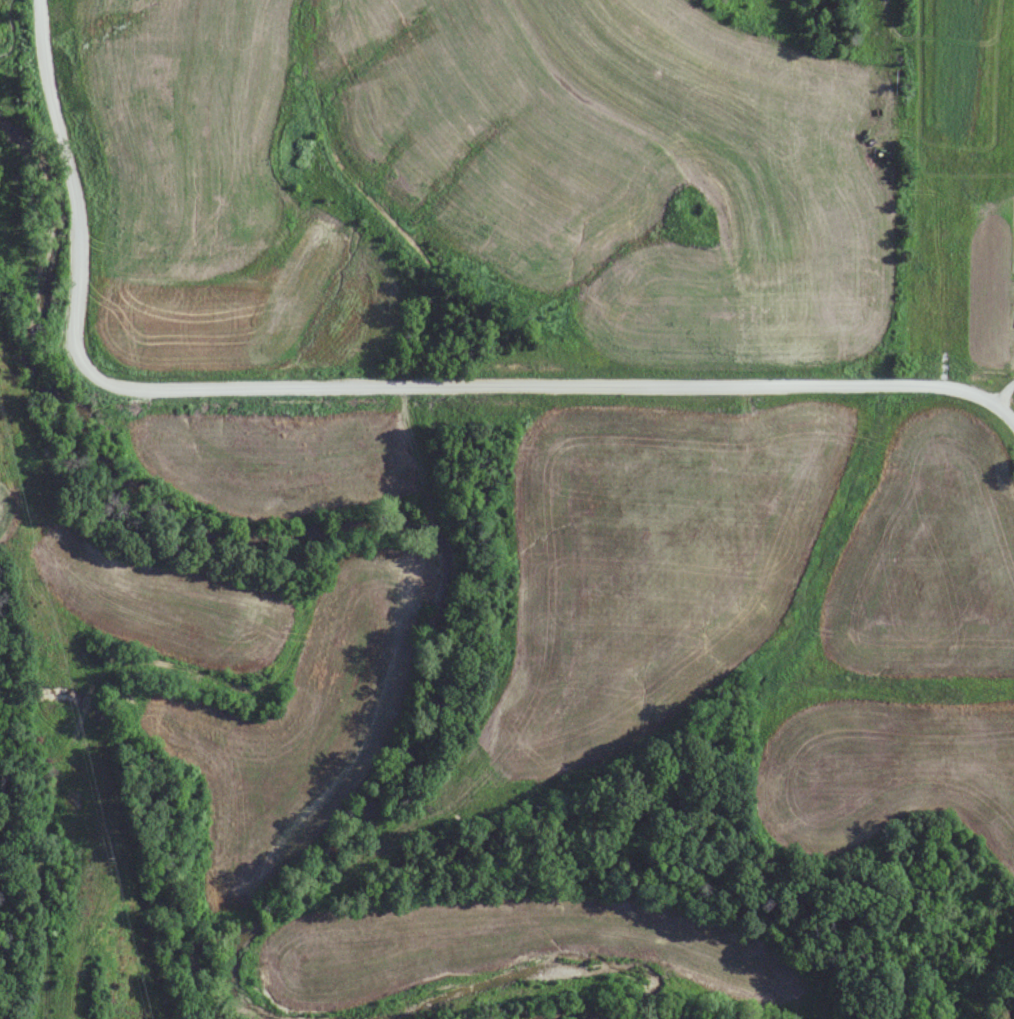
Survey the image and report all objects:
road: (26, 15)
road: (391, 378)

